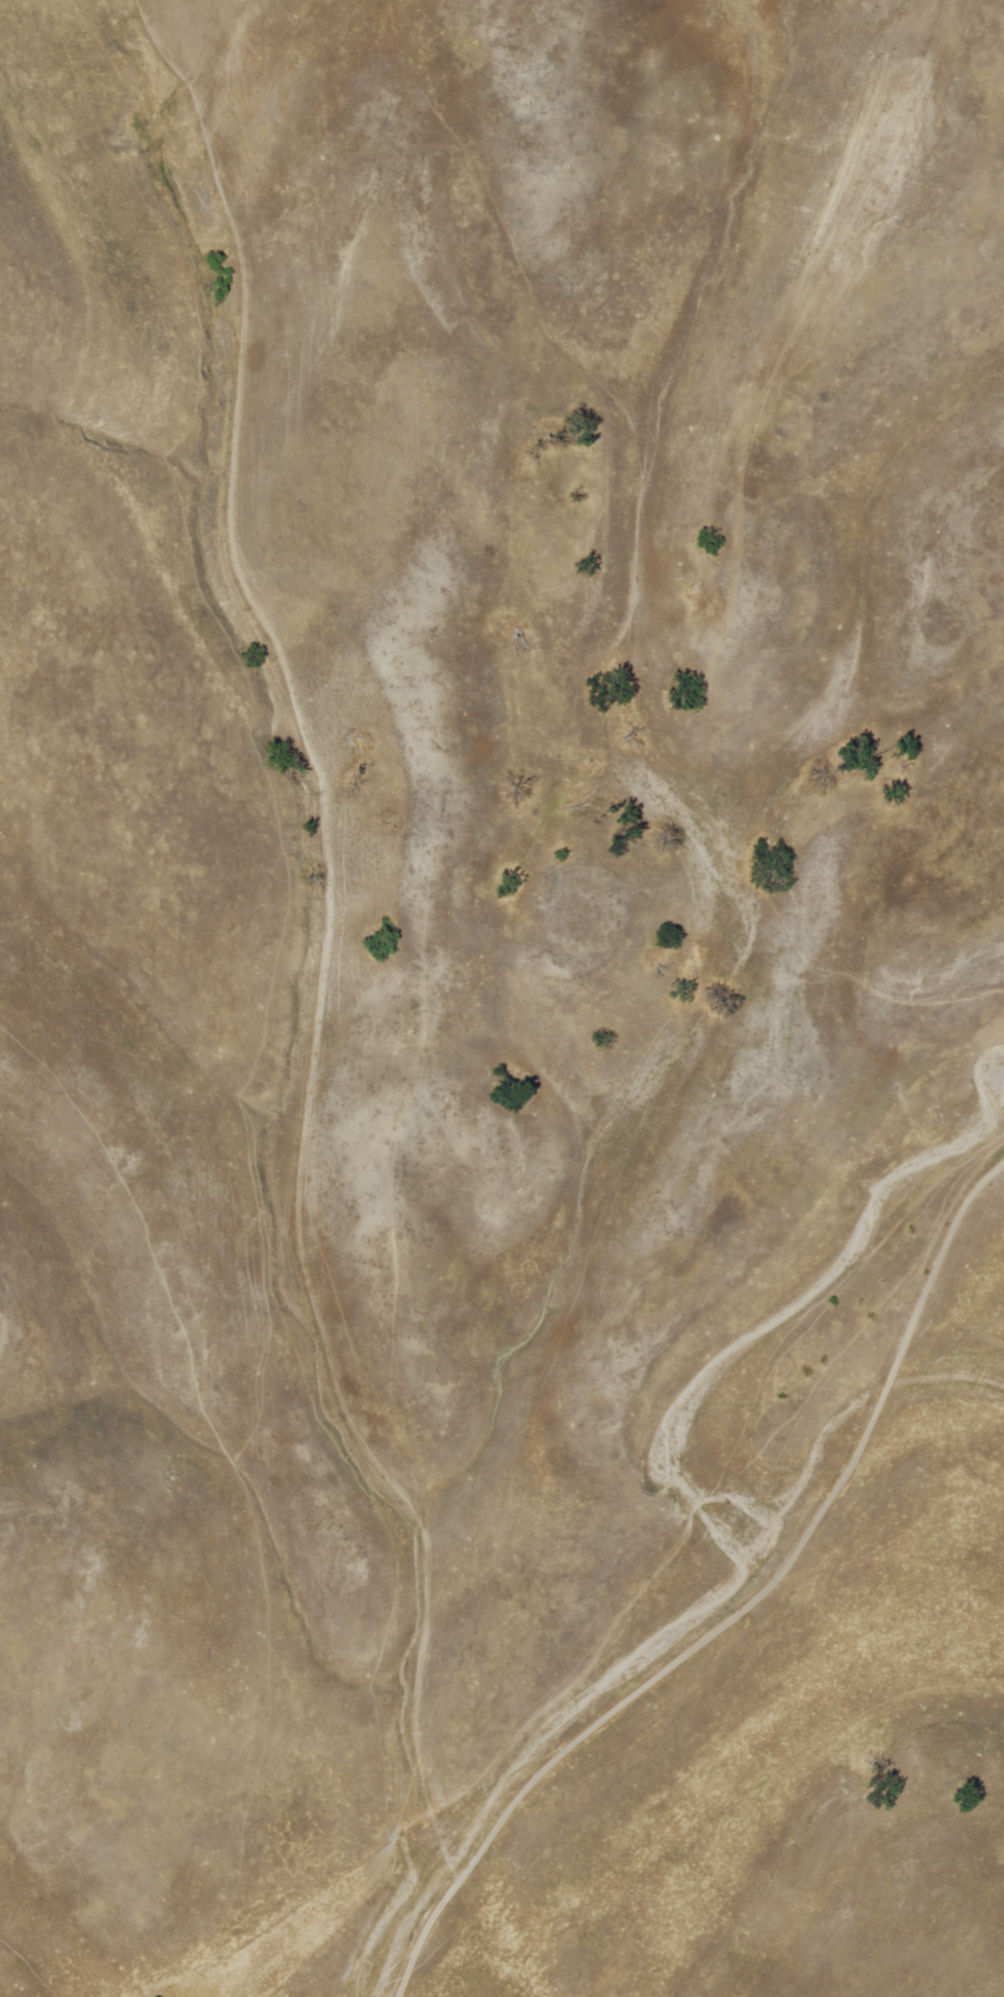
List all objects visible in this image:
road: (931, 1267)
road: (944, 1391)
road: (638, 1691)

